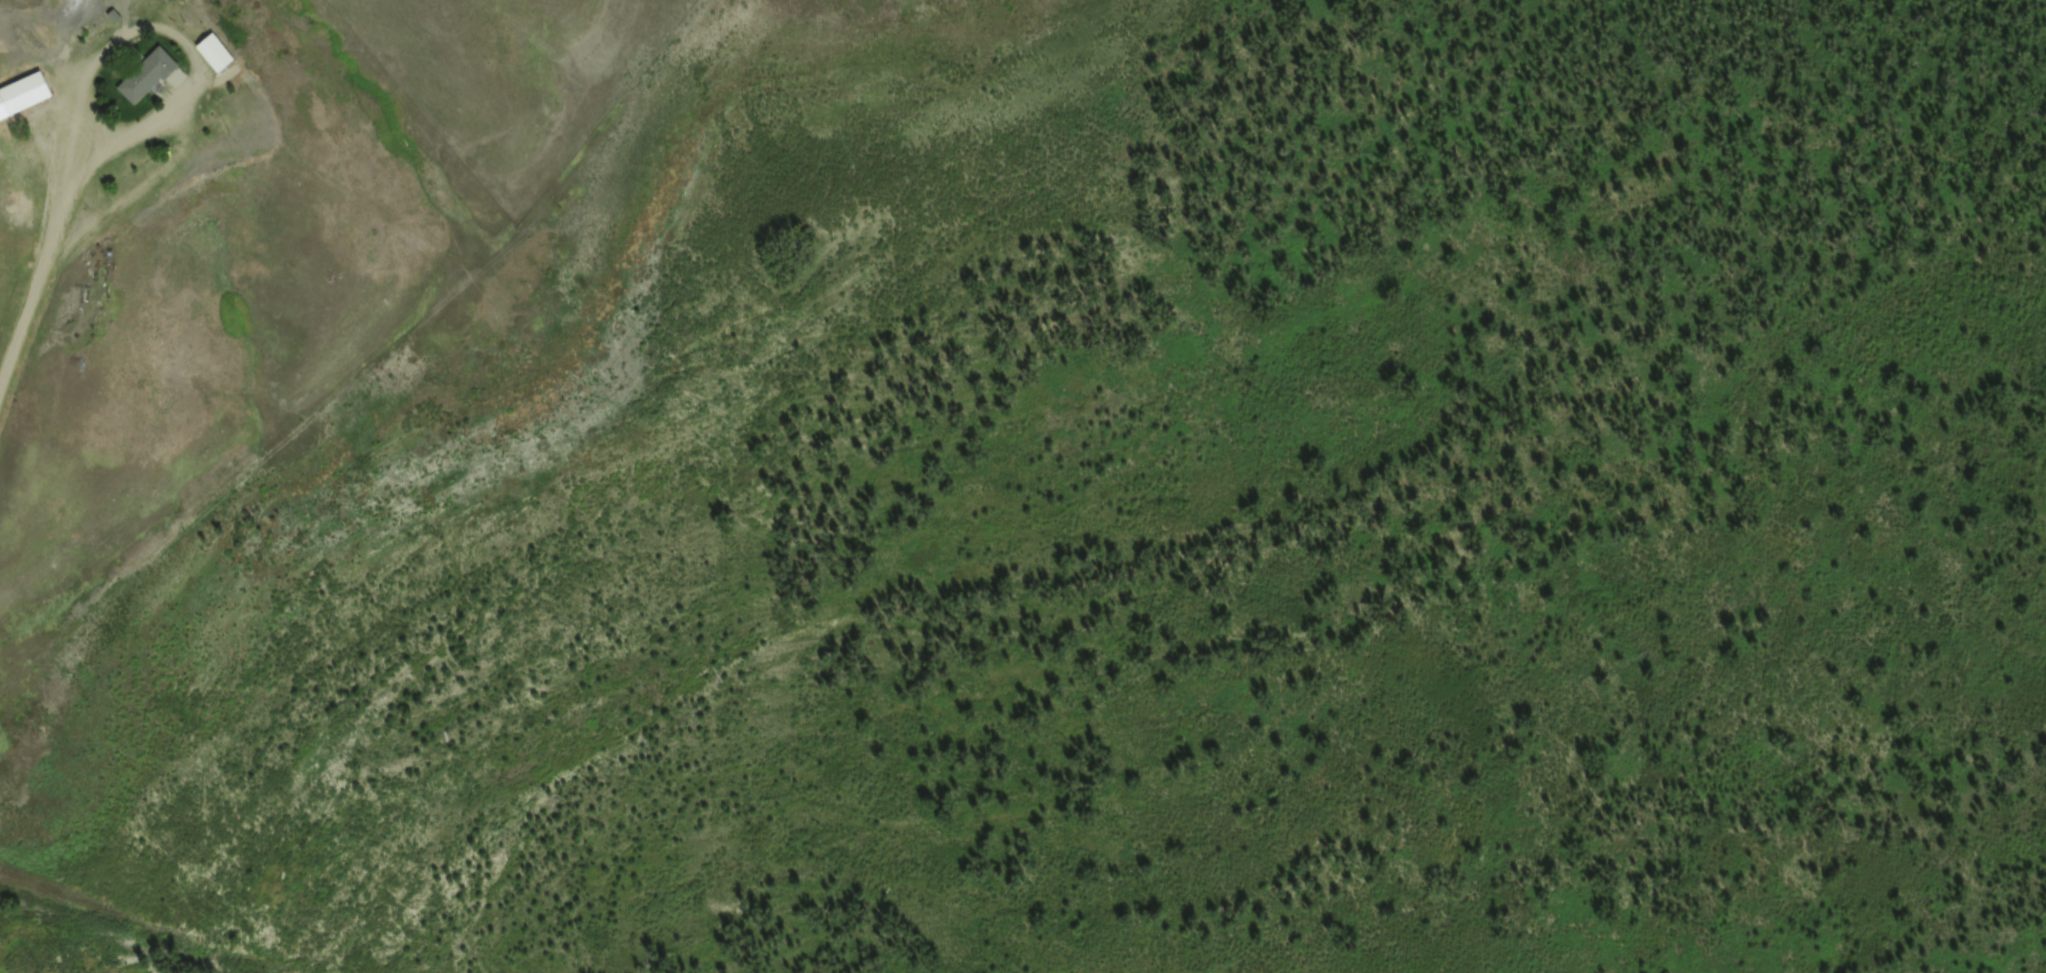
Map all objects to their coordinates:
building: (219, 54)
building: (147, 77)
building: (23, 96)

